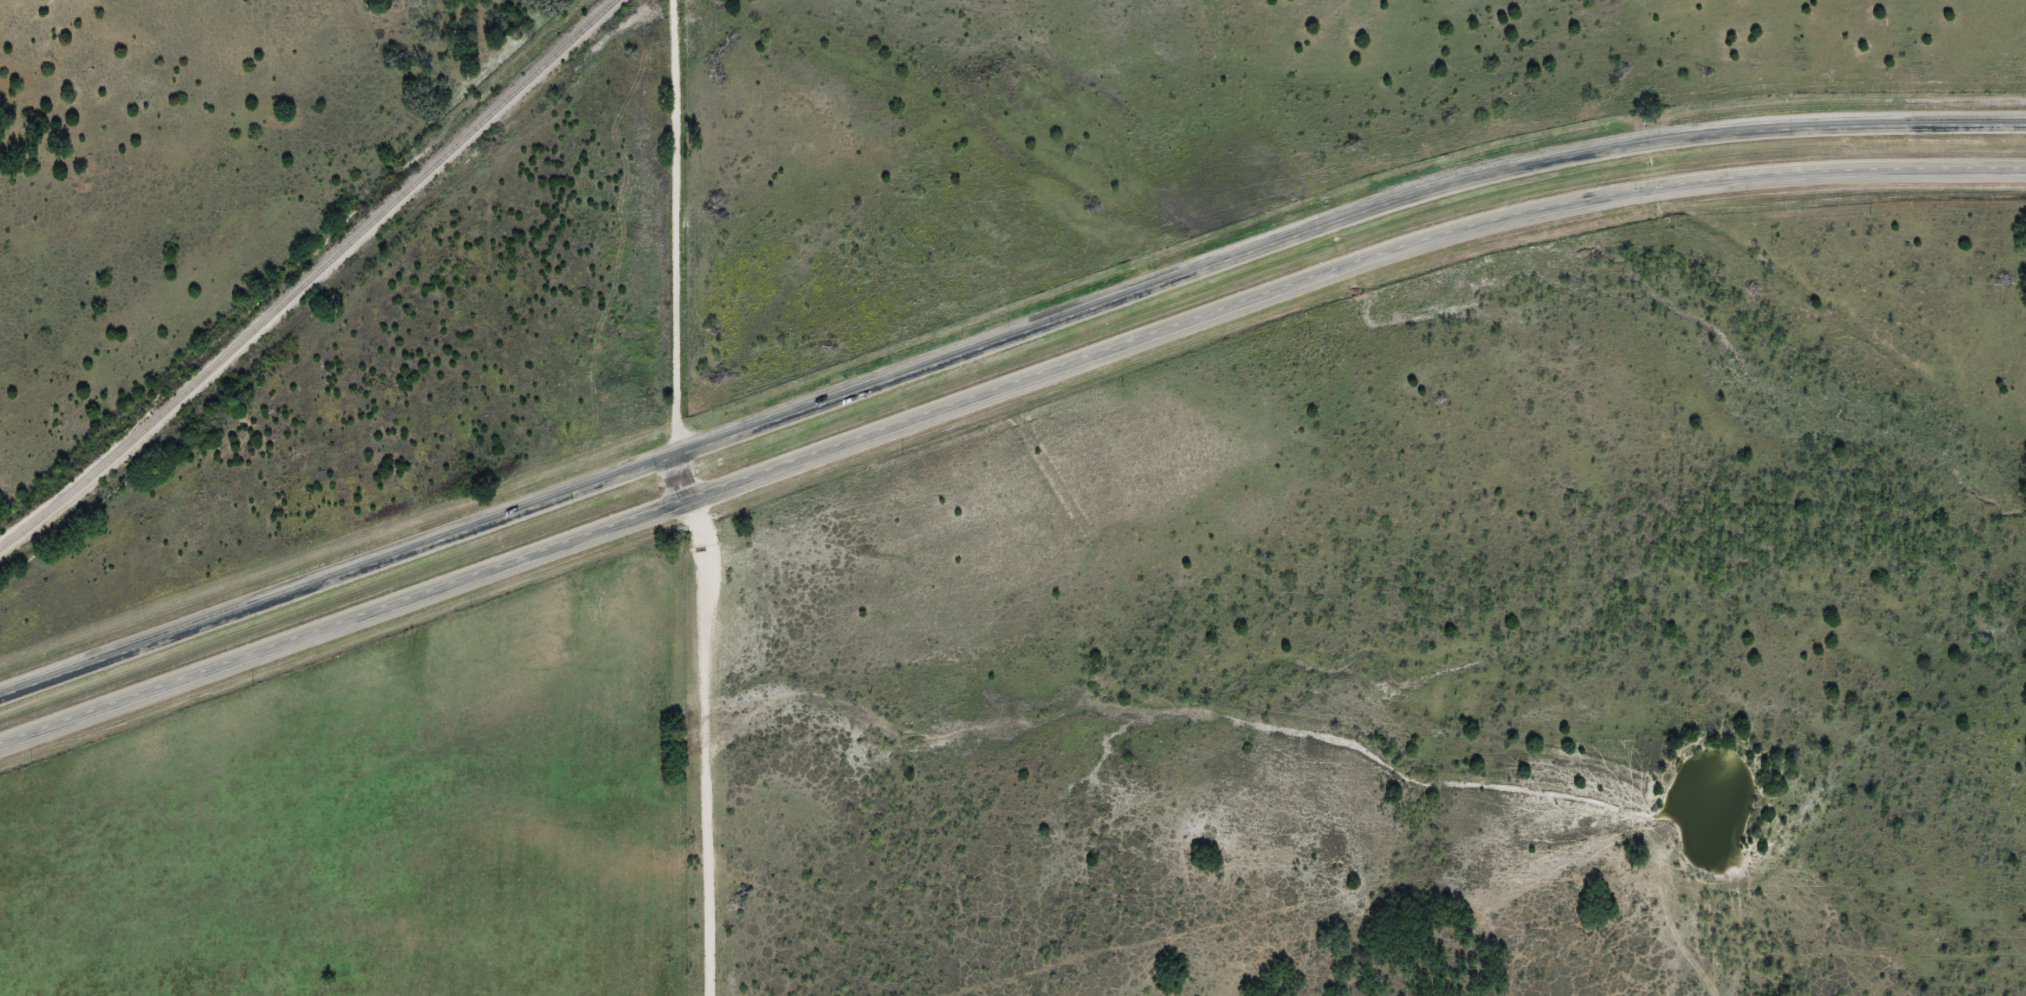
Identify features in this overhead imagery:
road: (677, 252)
railway: (311, 278)
road: (998, 344)
road: (999, 395)
road: (708, 748)

